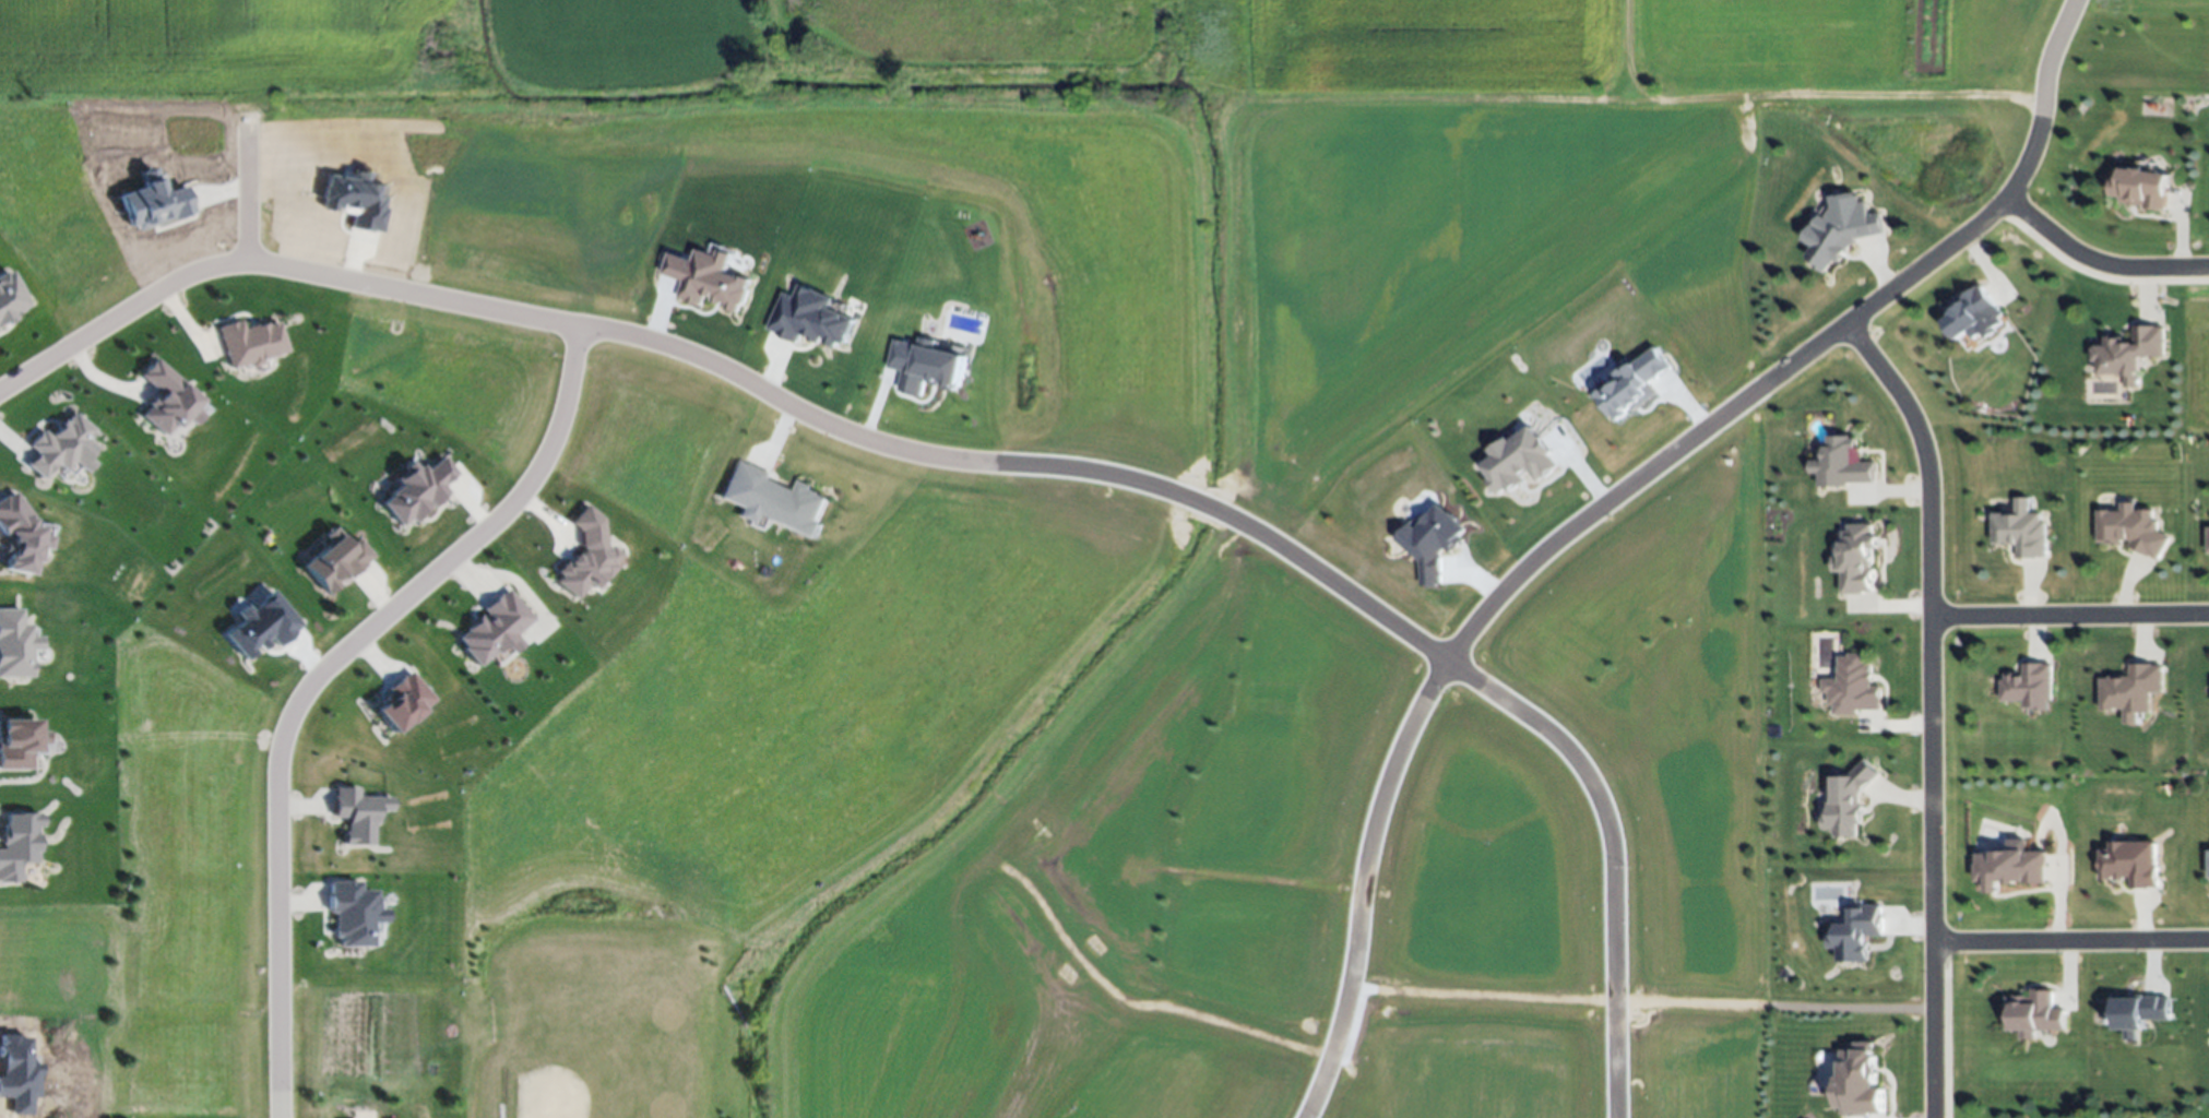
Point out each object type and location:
crop: (237, 50)
road: (1794, 92)
road: (251, 185)
building: (2141, 189)
building: (357, 200)
building: (155, 203)
building: (1841, 230)
road: (2095, 264)
building: (709, 279)
road: (416, 294)
building: (10, 298)
road: (119, 314)
building: (1973, 317)
building: (810, 319)
building: (249, 343)
building: (2128, 354)
road: (1803, 359)
building: (924, 367)
building: (1634, 385)
building: (168, 401)
road: (880, 442)
building: (62, 448)
building: (1519, 462)
building: (1843, 464)
building: (419, 491)
building: (774, 500)
road: (1219, 520)
building: (2131, 530)
building: (2020, 531)
building: (19, 536)
building: (2208, 540)
building: (1433, 544)
building: (587, 556)
building: (1856, 559)
building: (336, 560)
road: (1342, 594)
road: (396, 607)
road: (2068, 617)
building: (260, 626)
building: (494, 628)
building: (15, 645)
building: (2029, 687)
building: (1852, 688)
building: (2131, 691)
building: (402, 702)
road: (1928, 712)
building: (19, 742)
building: (1848, 801)
building: (358, 814)
building: (19, 844)
road: (1605, 852)
building: (2131, 864)
building: (2010, 867)
road: (1363, 884)
building: (354, 913)
building: (1857, 933)
road: (2069, 942)
building: (2139, 1013)
building: (2033, 1014)
road: (284, 1015)
building: (1860, 1081)

